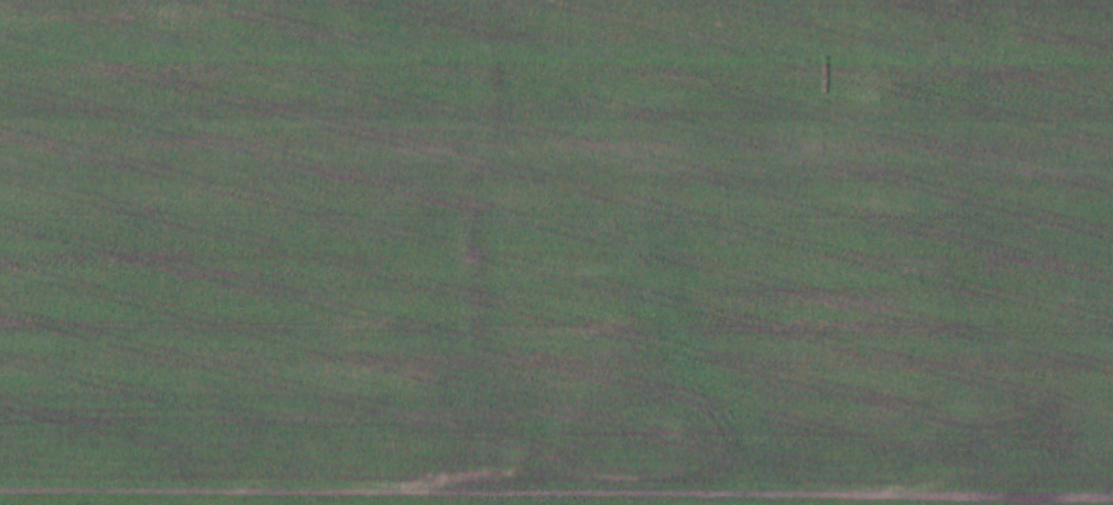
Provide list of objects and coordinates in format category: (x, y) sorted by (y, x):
crop: (556, 252)

